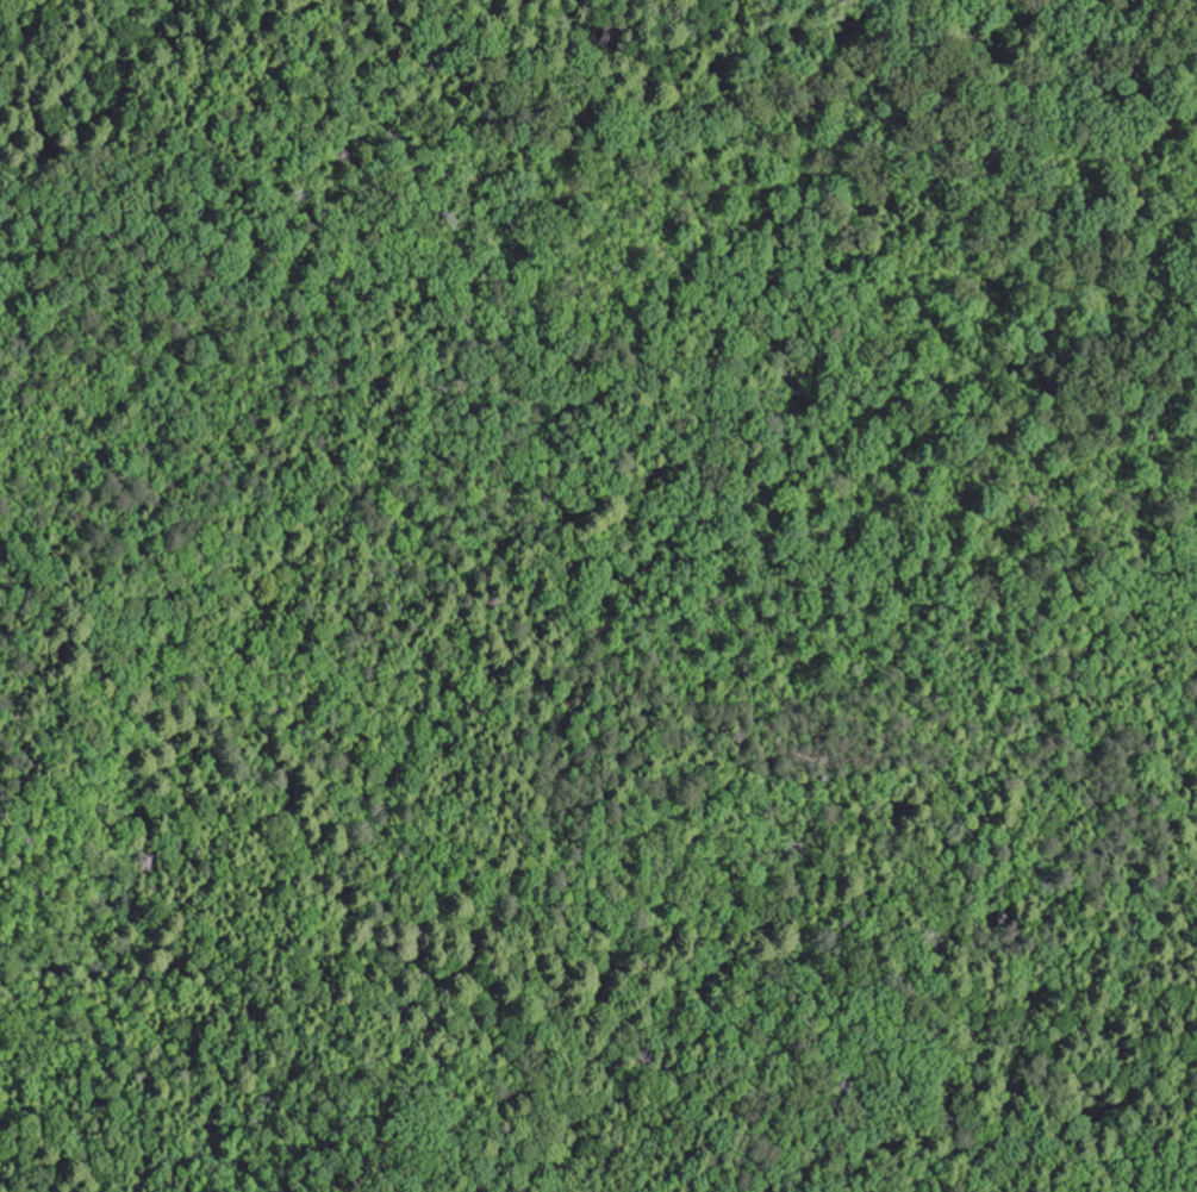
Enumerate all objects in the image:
road: (1037, 166)

